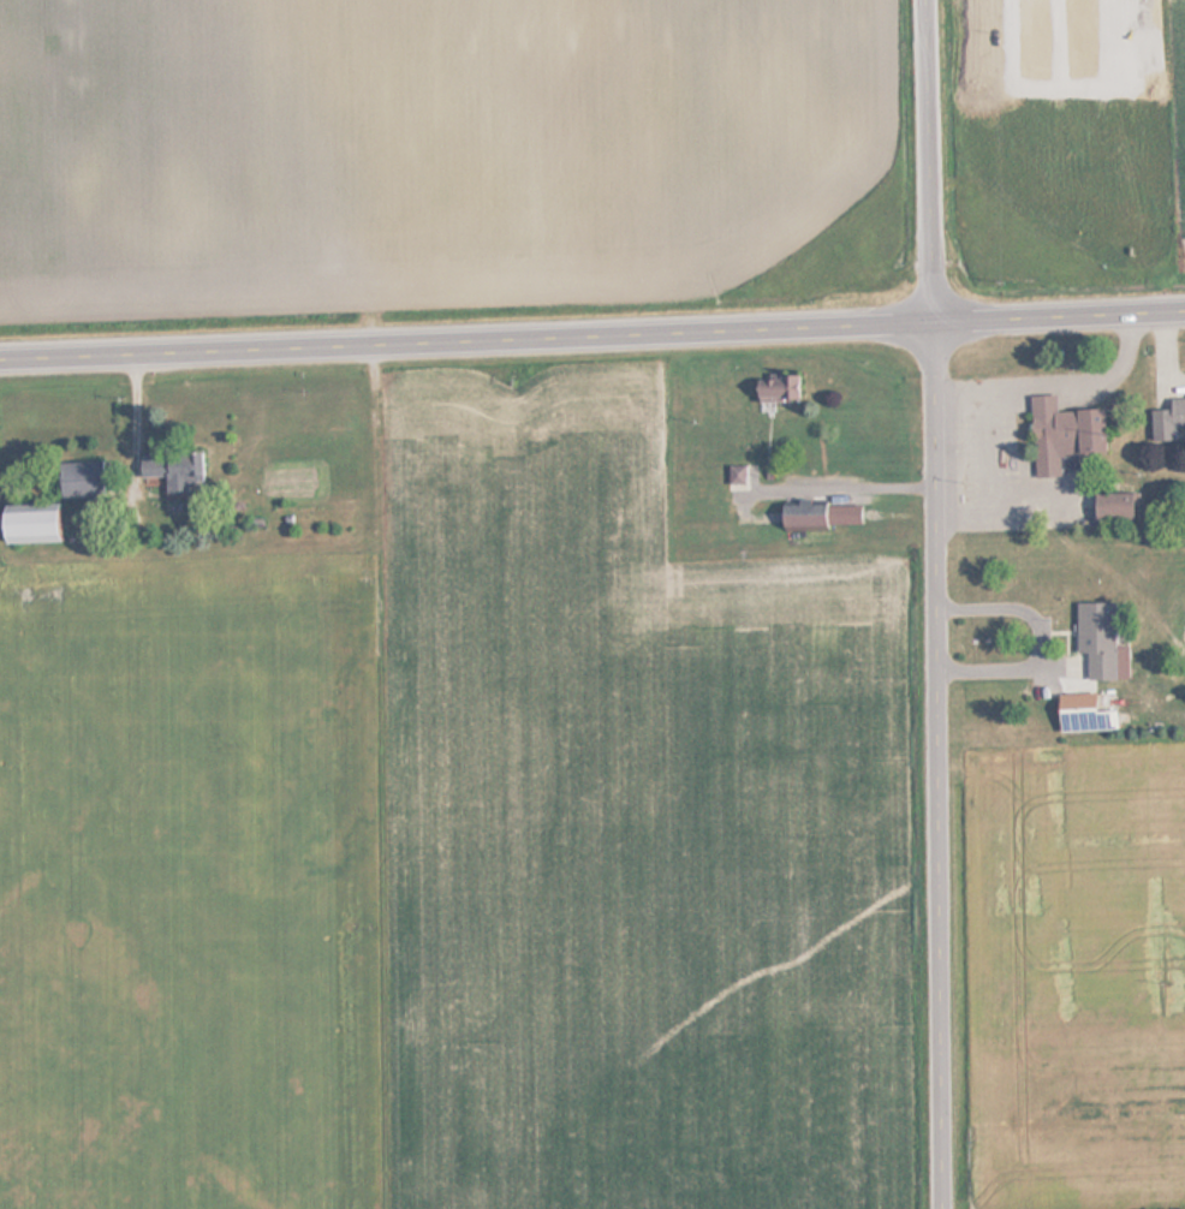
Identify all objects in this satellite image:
road: (934, 161)
road: (592, 337)
building: (775, 391)
building: (1167, 419)
building: (1059, 434)
building: (168, 469)
building: (734, 476)
building: (81, 480)
building: (1112, 507)
building: (802, 514)
building: (30, 524)
building: (1095, 638)
road: (942, 766)

